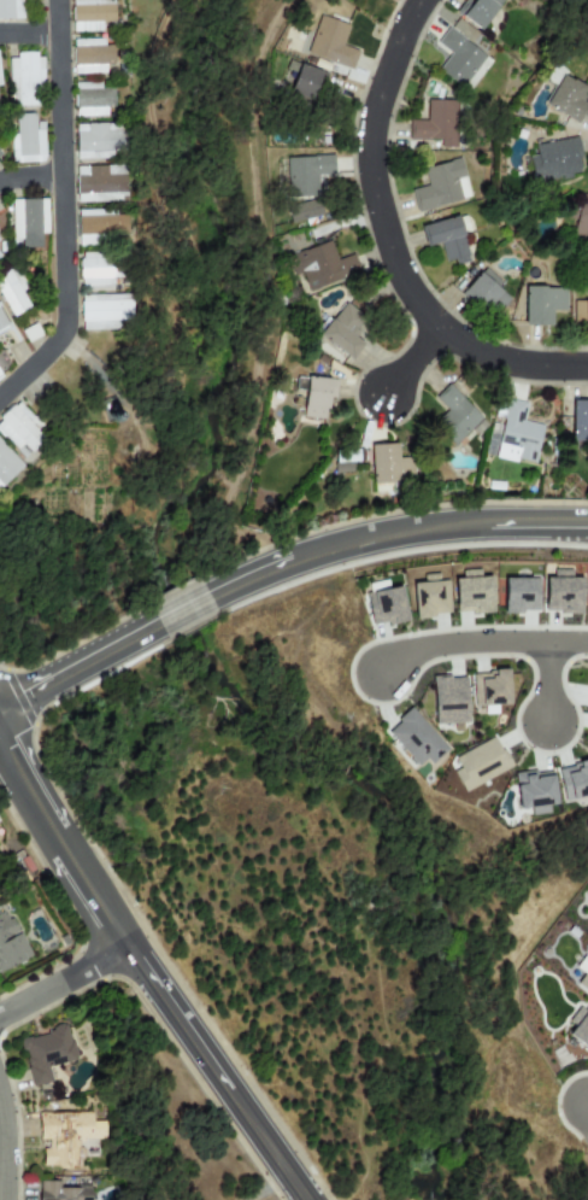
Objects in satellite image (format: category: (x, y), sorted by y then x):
building: (10, 10)
building: (478, 12)
building: (90, 14)
road: (28, 34)
building: (329, 42)
building: (90, 55)
building: (458, 57)
building: (24, 81)
building: (304, 84)
building: (566, 98)
building: (92, 99)
building: (435, 123)
building: (27, 140)
building: (99, 140)
building: (554, 159)
building: (306, 175)
road: (30, 177)
building: (98, 182)
building: (441, 186)
road: (61, 210)
building: (305, 210)
building: (581, 216)
building: (28, 221)
building: (101, 226)
building: (445, 239)
road: (388, 244)
road: (160, 261)
building: (321, 265)
road: (257, 292)
building: (486, 292)
building: (11, 294)
building: (541, 304)
building: (105, 311)
building: (580, 312)
building: (2, 323)
building: (341, 330)
road: (412, 361)
building: (0, 377)
building: (317, 396)
building: (453, 416)
building: (578, 420)
building: (20, 429)
building: (517, 434)
building: (7, 464)
building: (388, 464)
road: (537, 523)
road: (388, 533)
road: (249, 576)
building: (561, 592)
building: (471, 593)
building: (519, 595)
building: (429, 597)
building: (384, 607)
road: (183, 609)
street lamp: (540, 625)
street lamp: (372, 639)
road: (460, 643)
road: (568, 643)
road: (80, 666)
road: (547, 683)
building: (489, 687)
traffic signals: (29, 695)
building: (448, 699)
building: (416, 738)
traffic signals: (7, 750)
street lamp: (552, 757)
building: (478, 763)
building: (574, 779)
road: (29, 789)
building: (534, 791)
road: (90, 894)
building: (10, 943)
road: (63, 981)
building: (583, 982)
road: (176, 1017)
building: (581, 1030)
building: (45, 1053)
street lamp: (558, 1085)
building: (65, 1136)
road: (265, 1145)
road: (1, 1157)
road: (267, 1188)
building: (61, 1192)

